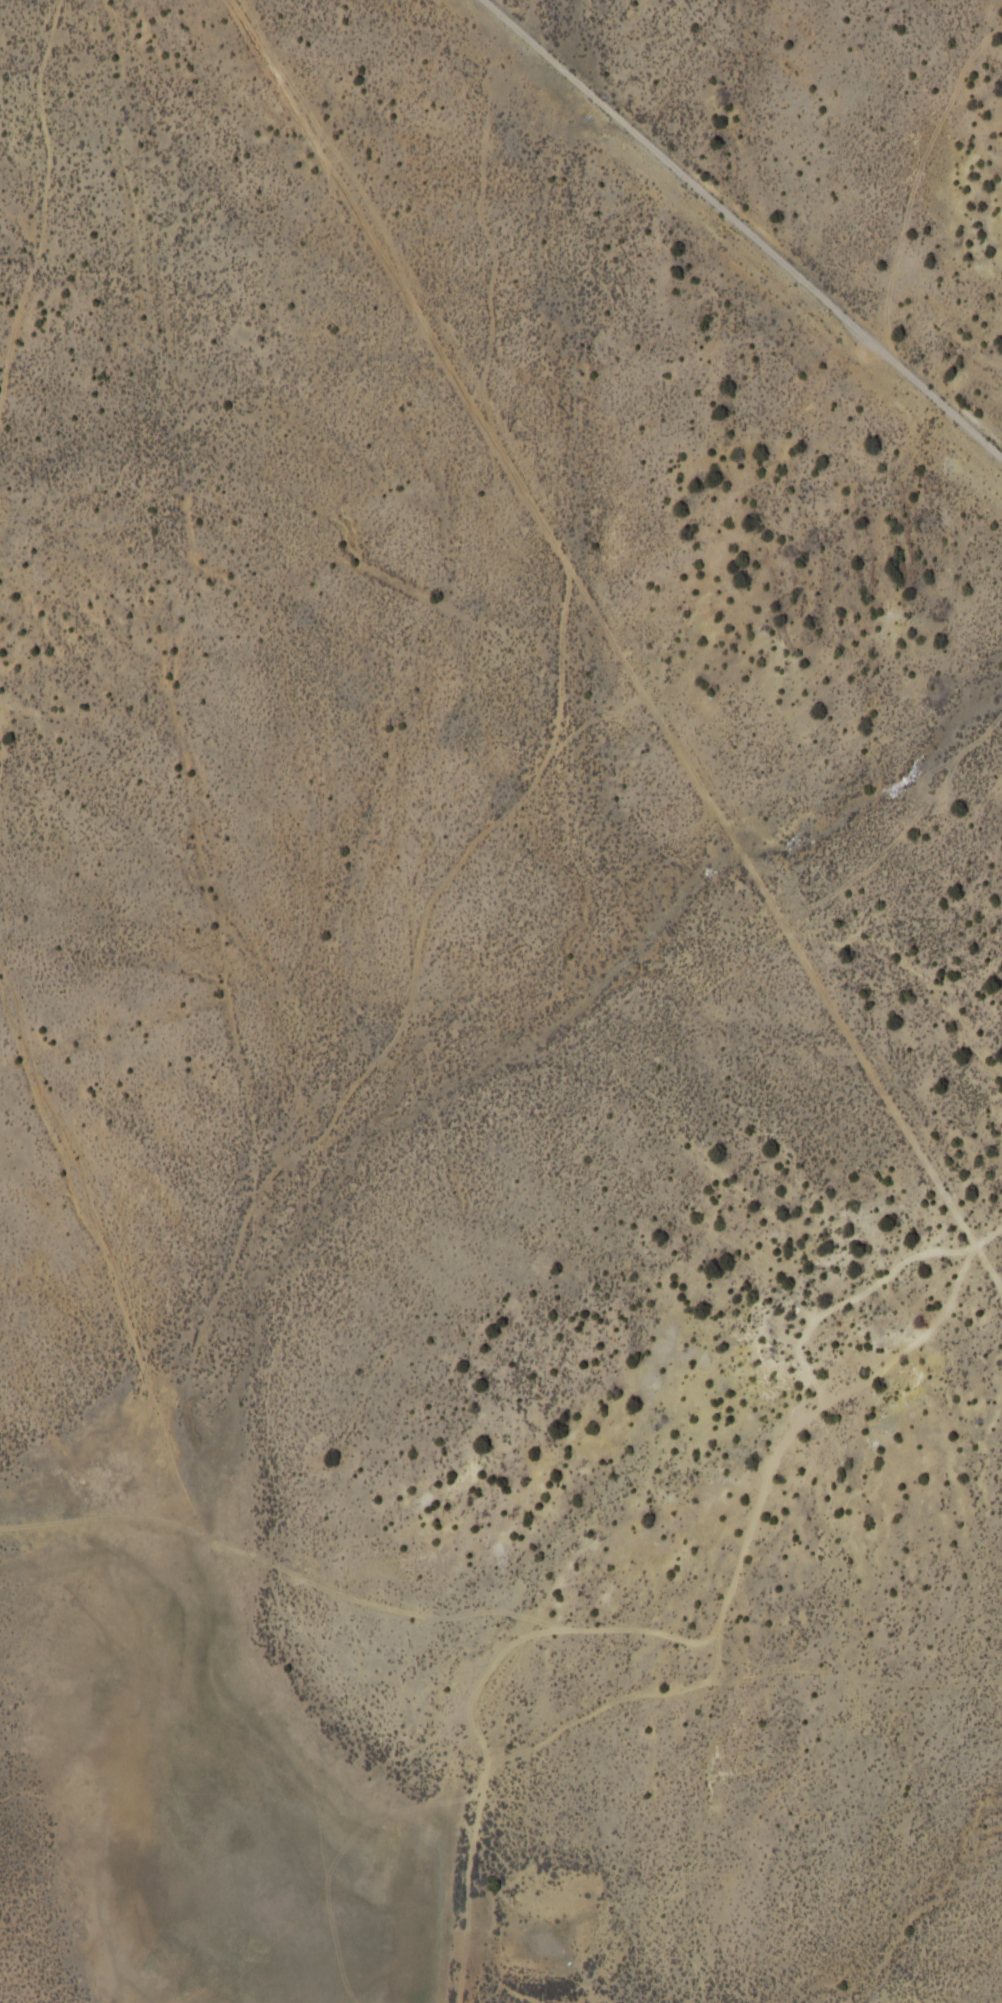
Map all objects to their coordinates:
road: (724, 248)
road: (502, 1581)

